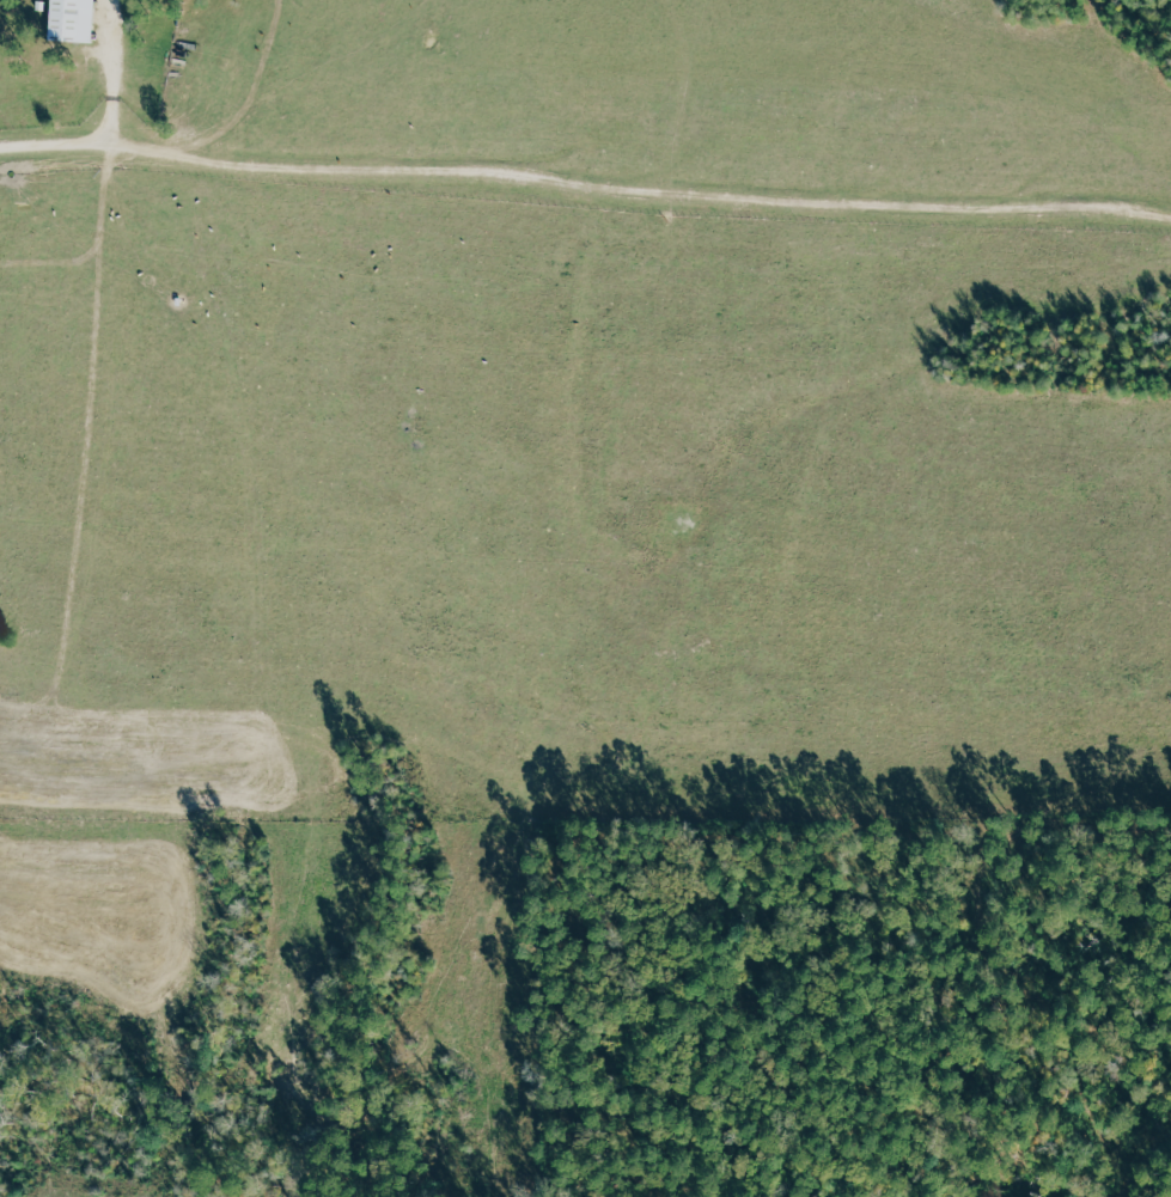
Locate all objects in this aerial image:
road: (584, 182)

